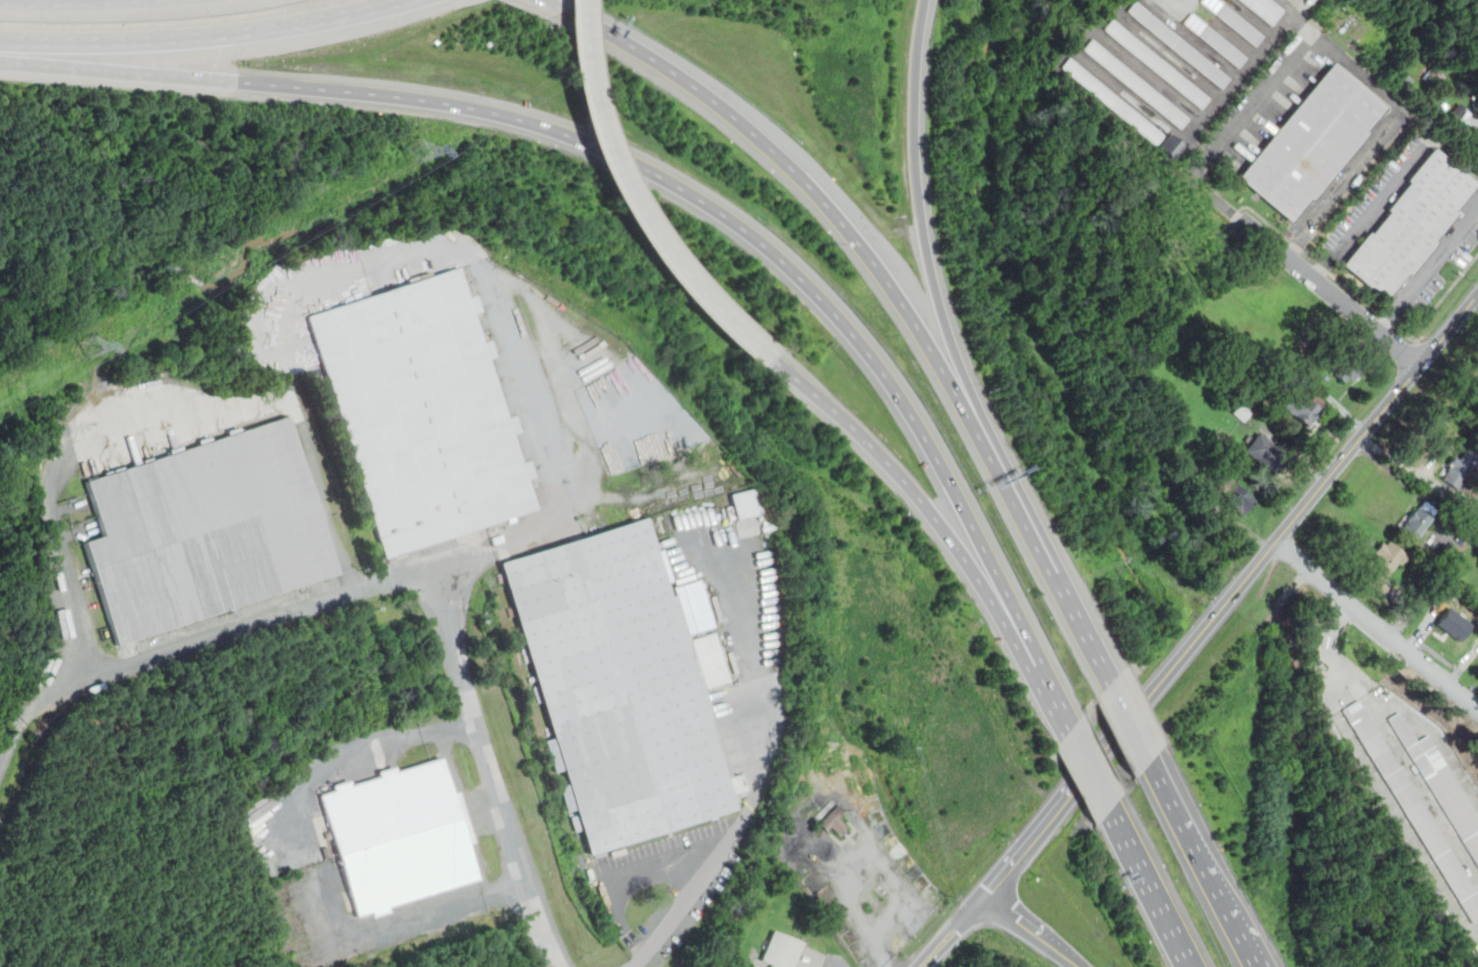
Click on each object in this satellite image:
road: (54, 0)
road: (548, 4)
building: (1211, 4)
building: (1265, 8)
building: (1194, 23)
building: (1239, 25)
road: (202, 35)
building: (1177, 44)
building: (1222, 46)
road: (1330, 47)
building: (1476, 59)
building: (1156, 63)
road: (118, 67)
road: (1240, 75)
building: (1434, 75)
building: (1135, 83)
building: (1112, 101)
building: (1477, 138)
building: (1311, 142)
building: (1169, 145)
power tower: (417, 152)
road: (1390, 180)
road: (808, 187)
road: (628, 202)
road: (1237, 215)
road: (735, 224)
building: (1410, 224)
road: (916, 225)
road: (1226, 229)
road: (1428, 271)
road: (1329, 274)
road: (1322, 284)
road: (494, 296)
power tower: (90, 348)
road: (1424, 349)
building: (1345, 367)
road: (263, 402)
building: (1302, 407)
building: (1241, 411)
building: (423, 414)
building: (1264, 450)
road: (1408, 468)
road: (1392, 472)
building: (1455, 472)
building: (1228, 491)
road: (913, 493)
building: (744, 503)
road: (1299, 513)
building: (1415, 519)
building: (206, 532)
road: (503, 548)
road: (1046, 562)
building: (1387, 562)
road: (437, 580)
building: (1453, 624)
road: (1375, 626)
road: (71, 631)
building: (618, 688)
road: (1049, 693)
road: (1387, 702)
building: (1352, 708)
road: (1128, 722)
road: (362, 742)
road: (1089, 770)
building: (1441, 783)
road: (1423, 789)
building: (1415, 810)
road: (1054, 811)
road: (1397, 811)
building: (833, 821)
street lamp: (1006, 835)
building: (399, 838)
road: (733, 839)
road: (1189, 840)
road: (626, 882)
road: (1150, 887)
traffic signals: (988, 892)
building: (873, 906)
road: (443, 908)
road: (1024, 920)
road: (954, 929)
road: (1243, 943)
building: (782, 951)
road: (1071, 958)

